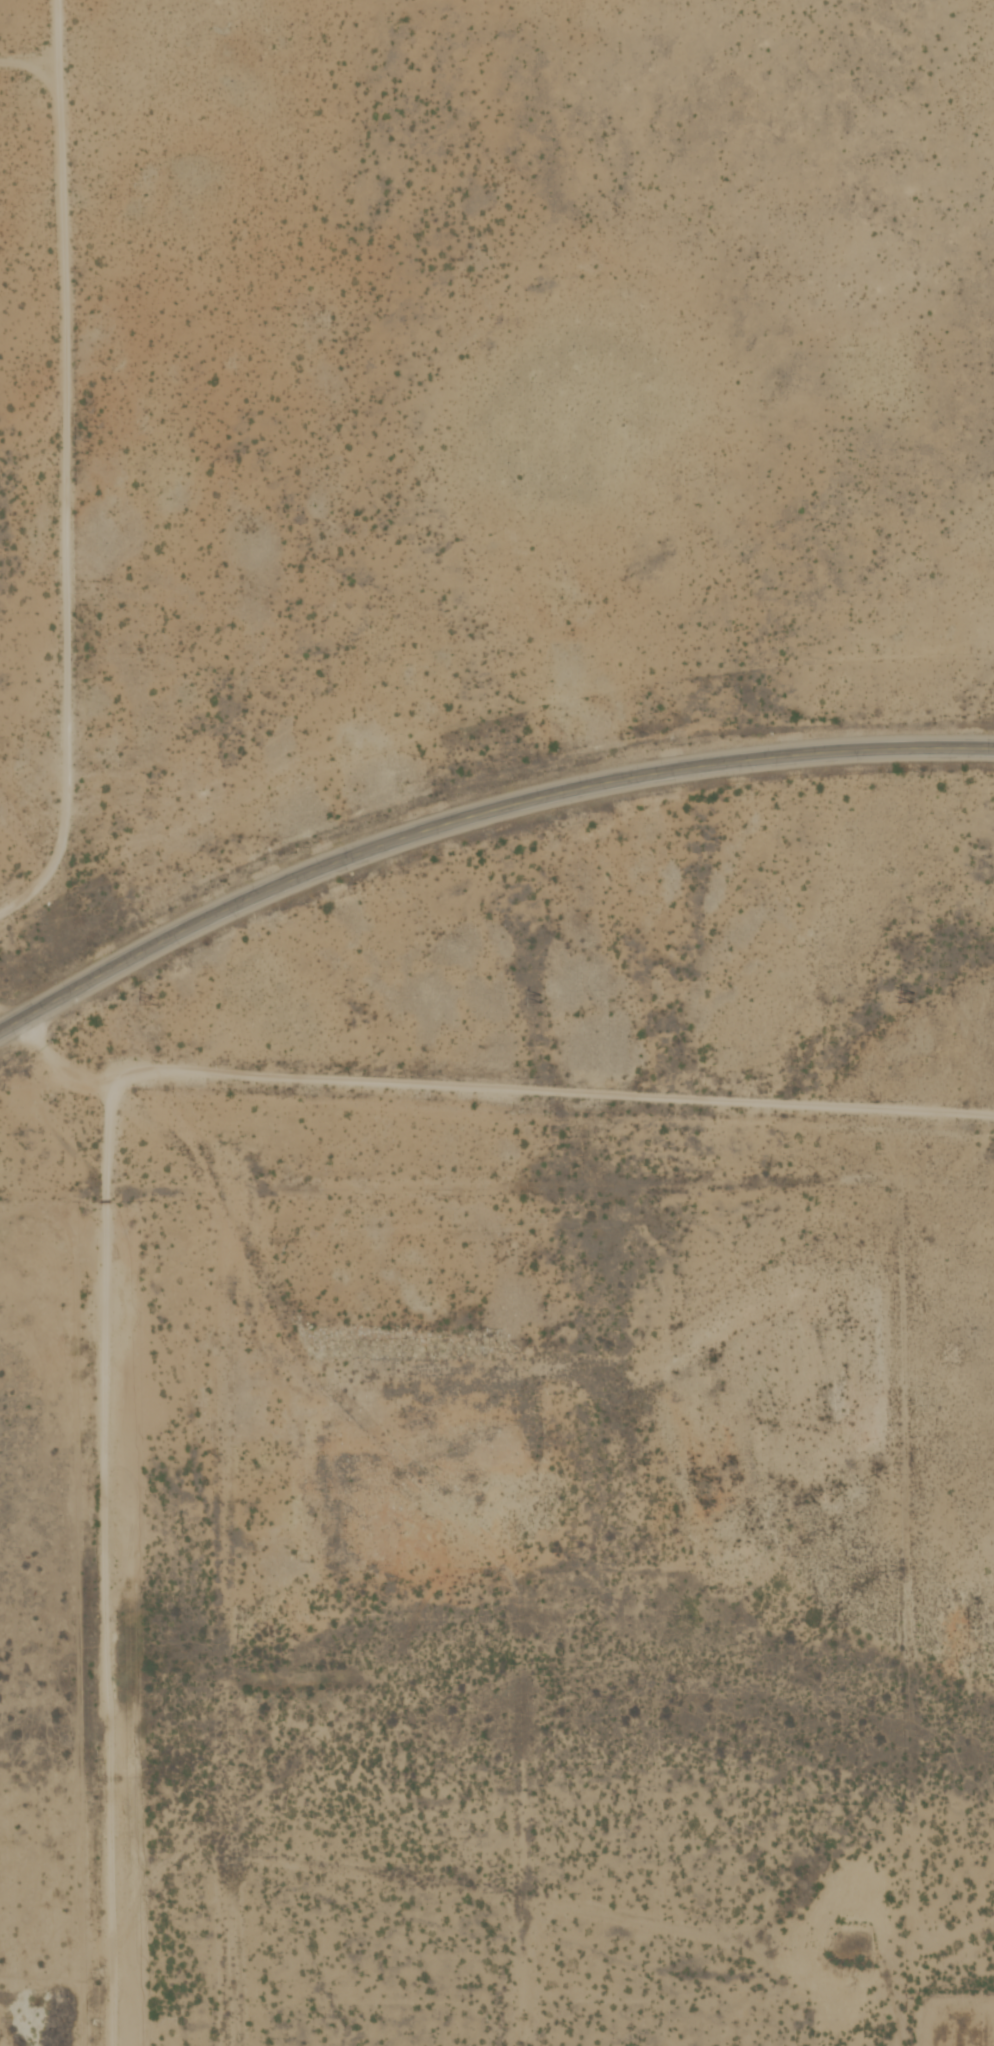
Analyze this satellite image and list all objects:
road: (66, 468)
road: (476, 814)
road: (104, 1119)
road: (904, 1547)

